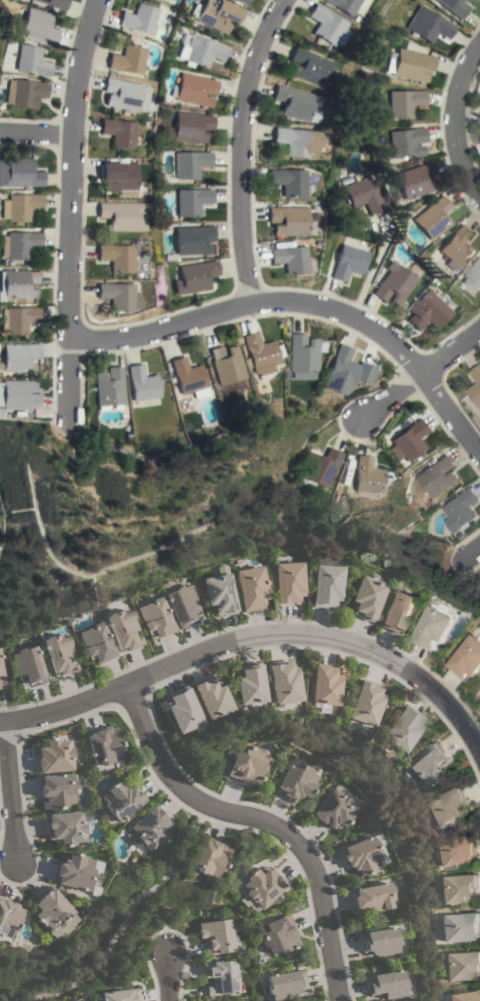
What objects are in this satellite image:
building: (241, 1)
building: (466, 1)
building: (51, 3)
building: (344, 6)
building: (454, 7)
building: (215, 14)
building: (140, 19)
building: (322, 24)
building: (429, 24)
building: (32, 25)
building: (200, 52)
building: (126, 60)
building: (27, 61)
building: (409, 64)
building: (304, 66)
building: (194, 90)
building: (19, 92)
building: (123, 94)
building: (405, 102)
building: (293, 104)
road: (461, 119)
building: (479, 120)
building: (193, 127)
building: (116, 132)
road: (33, 135)
building: (295, 142)
building: (407, 142)
road: (243, 149)
building: (191, 164)
building: (17, 173)
building: (115, 178)
building: (417, 180)
building: (288, 182)
building: (361, 195)
building: (192, 201)
building: (17, 207)
road: (67, 207)
building: (121, 216)
building: (433, 218)
building: (289, 221)
building: (194, 239)
building: (17, 245)
building: (457, 248)
building: (118, 258)
building: (290, 259)
building: (348, 262)
building: (196, 276)
building: (473, 276)
building: (17, 283)
building: (394, 284)
building: (118, 296)
building: (427, 311)
road: (296, 314)
building: (17, 319)
building: (259, 354)
building: (18, 356)
building: (303, 356)
building: (227, 367)
building: (342, 368)
building: (189, 378)
road: (427, 380)
building: (475, 384)
building: (143, 386)
building: (110, 389)
building: (18, 395)
building: (1, 412)
building: (409, 441)
building: (320, 469)
building: (366, 475)
building: (437, 476)
building: (459, 510)
road: (475, 550)
building: (288, 582)
building: (325, 583)
building: (251, 587)
building: (219, 593)
building: (366, 597)
building: (182, 604)
building: (398, 610)
building: (156, 618)
building: (435, 626)
building: (123, 629)
road: (255, 636)
building: (97, 642)
building: (59, 654)
building: (467, 658)
building: (28, 665)
building: (1, 677)
building: (283, 682)
building: (249, 685)
building: (324, 686)
building: (211, 698)
building: (365, 703)
building: (182, 710)
building: (402, 727)
building: (103, 744)
building: (54, 755)
building: (429, 764)
building: (247, 765)
building: (295, 781)
building: (56, 790)
road: (8, 791)
building: (121, 800)
building: (445, 807)
building: (332, 809)
road: (259, 822)
building: (65, 827)
building: (150, 828)
building: (455, 850)
building: (361, 855)
building: (208, 856)
building: (73, 872)
building: (260, 887)
building: (457, 887)
building: (372, 897)
building: (52, 912)
building: (8, 917)
road: (124, 917)
road: (142, 920)
building: (460, 926)
building: (279, 934)
building: (218, 936)
building: (378, 941)
building: (461, 965)
road: (166, 972)
building: (221, 977)
building: (286, 984)
building: (385, 984)
building: (120, 995)
building: (465, 996)
road: (2, 1000)

